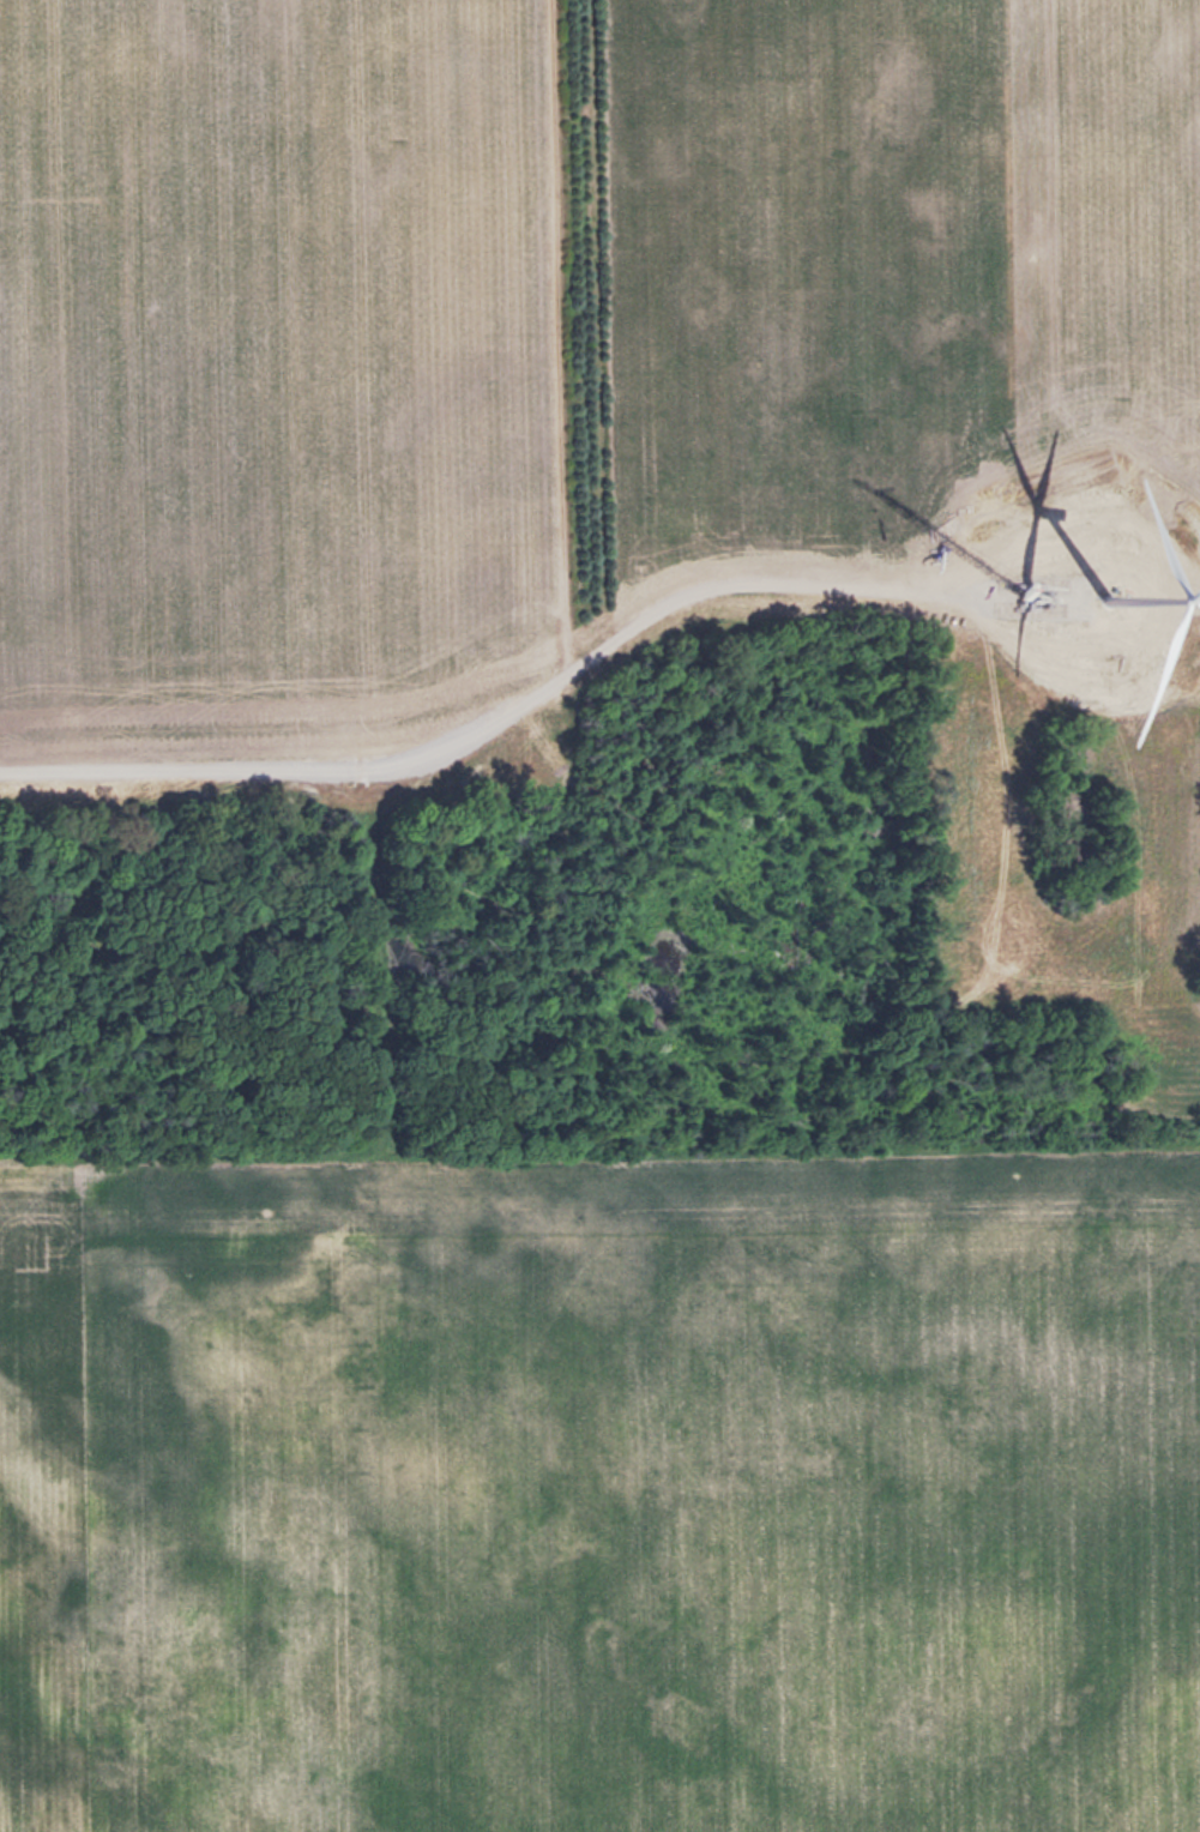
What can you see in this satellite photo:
wind turbine: (1109, 596)

